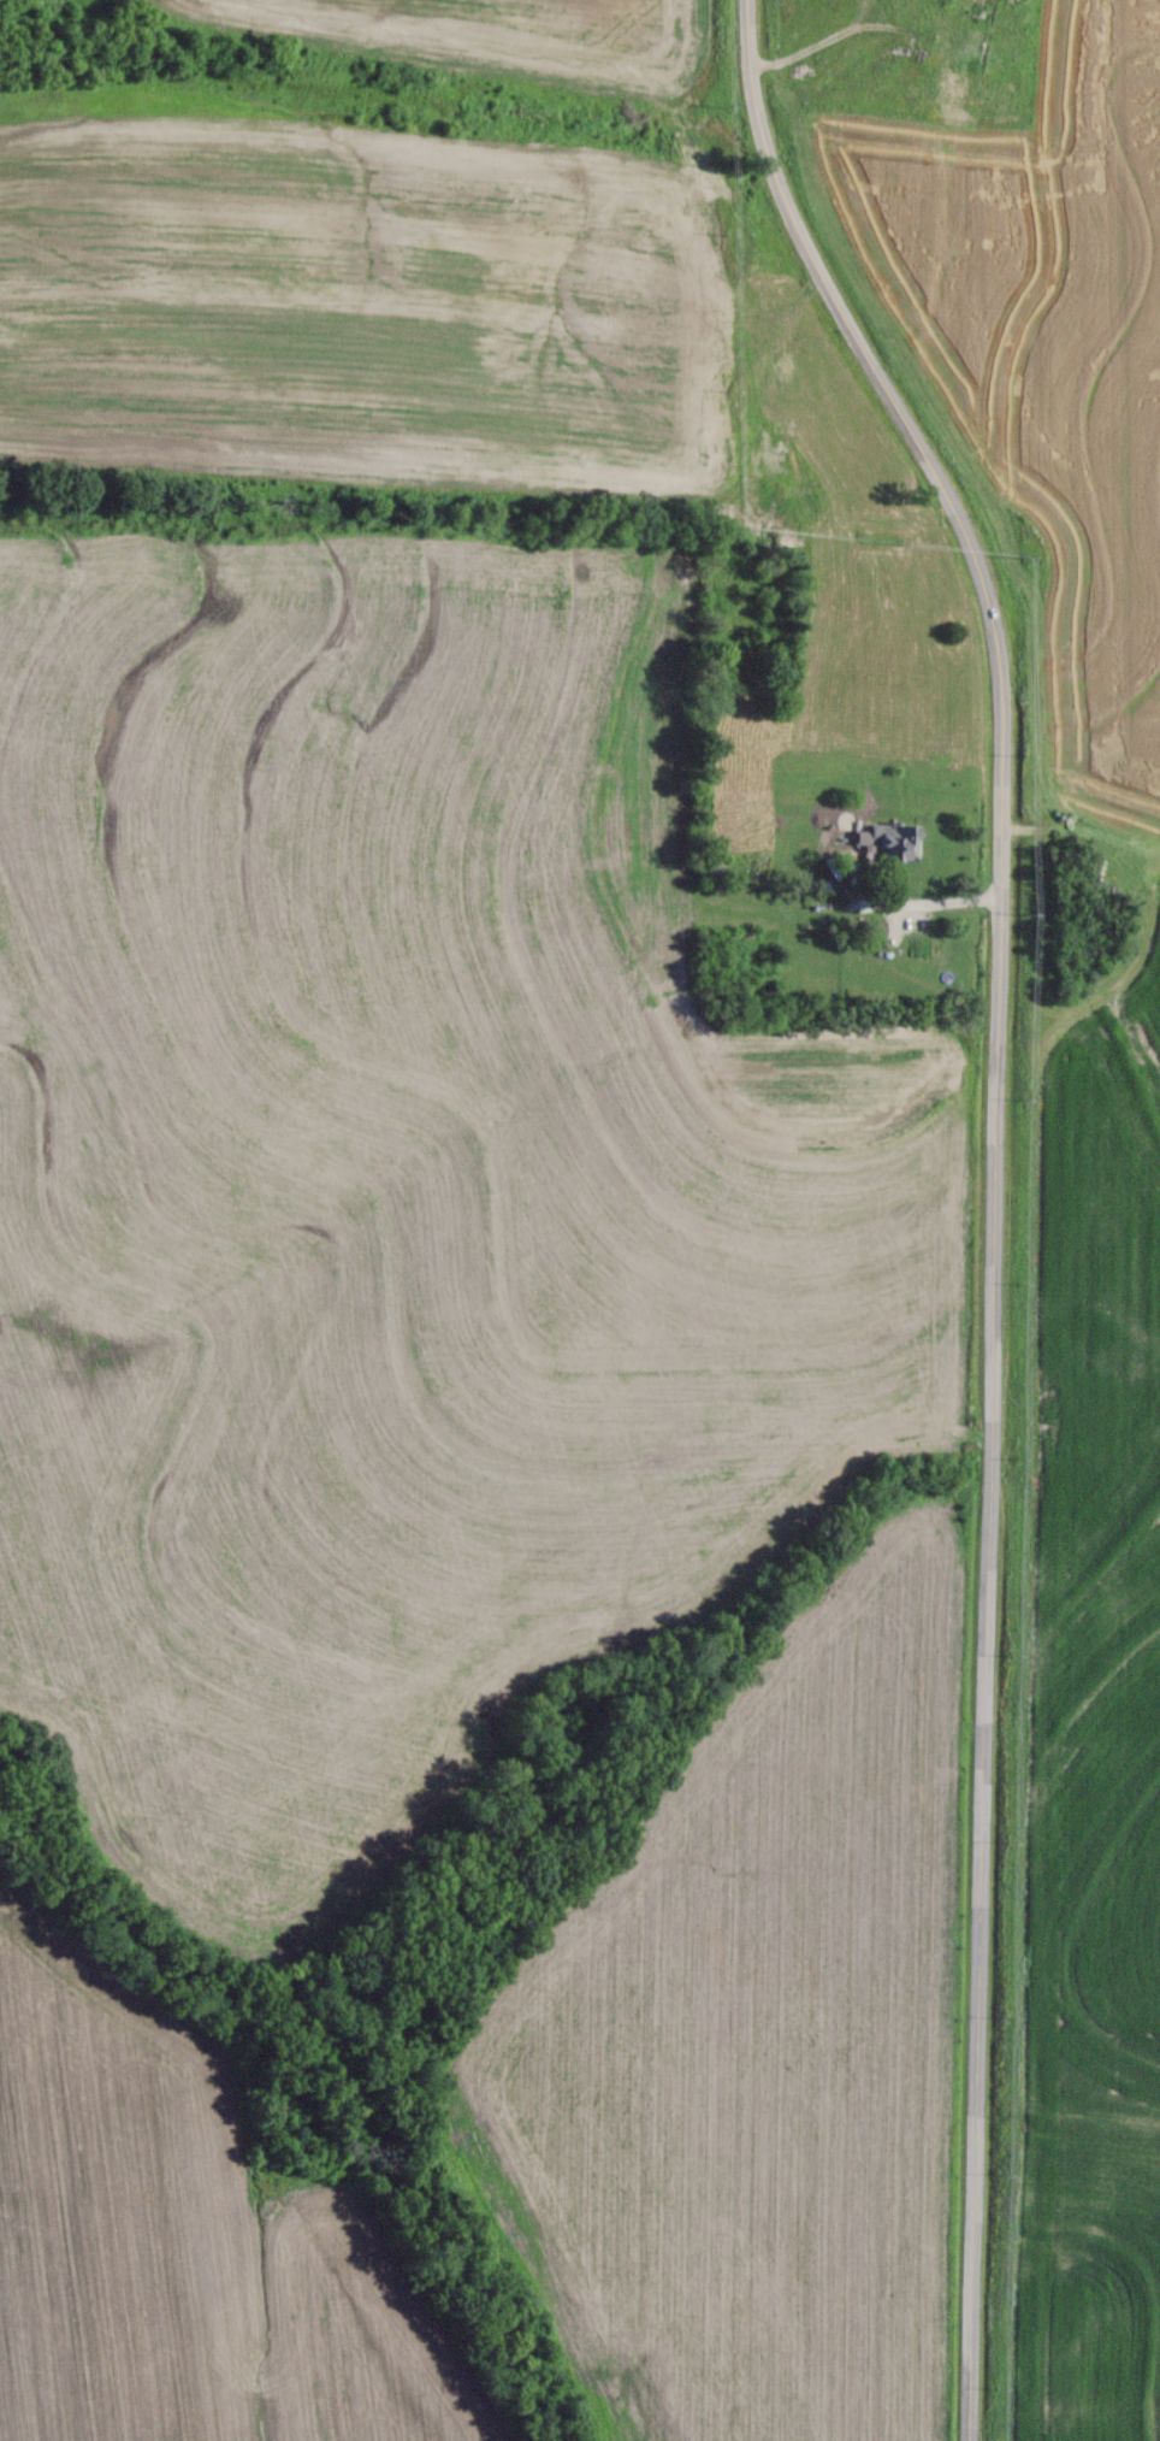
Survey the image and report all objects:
building: (939, 4)
building: (889, 841)
building: (709, 869)
road: (915, 910)
road: (989, 1192)

